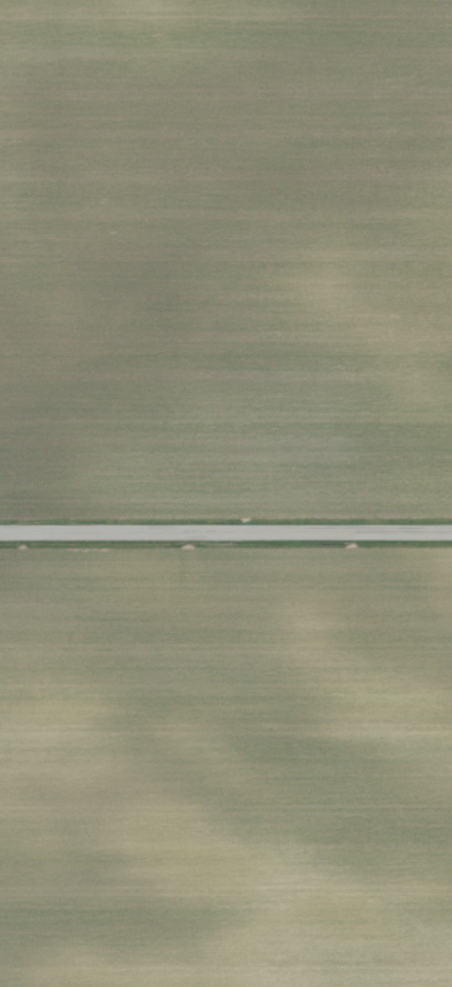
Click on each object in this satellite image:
road: (226, 528)

